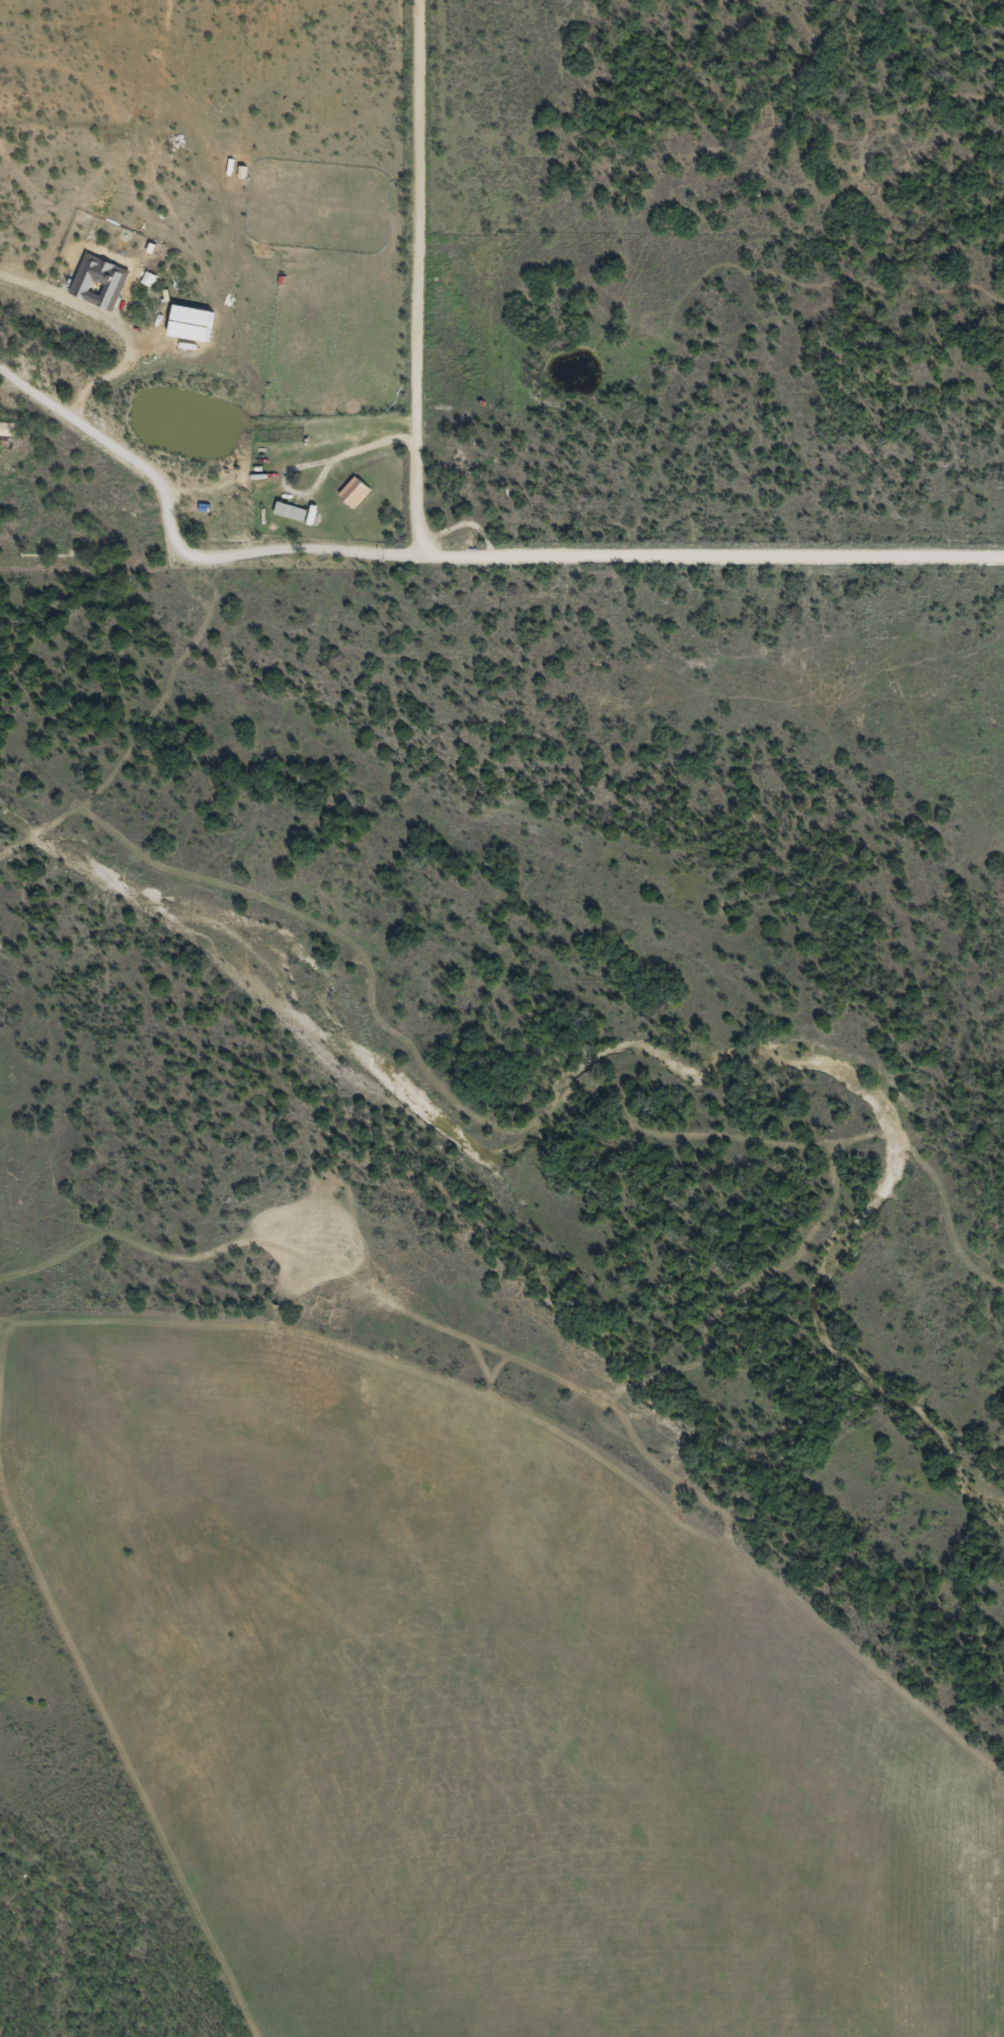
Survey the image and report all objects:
road: (488, 275)
road: (112, 451)
building: (355, 491)
building: (290, 511)
road: (612, 563)

